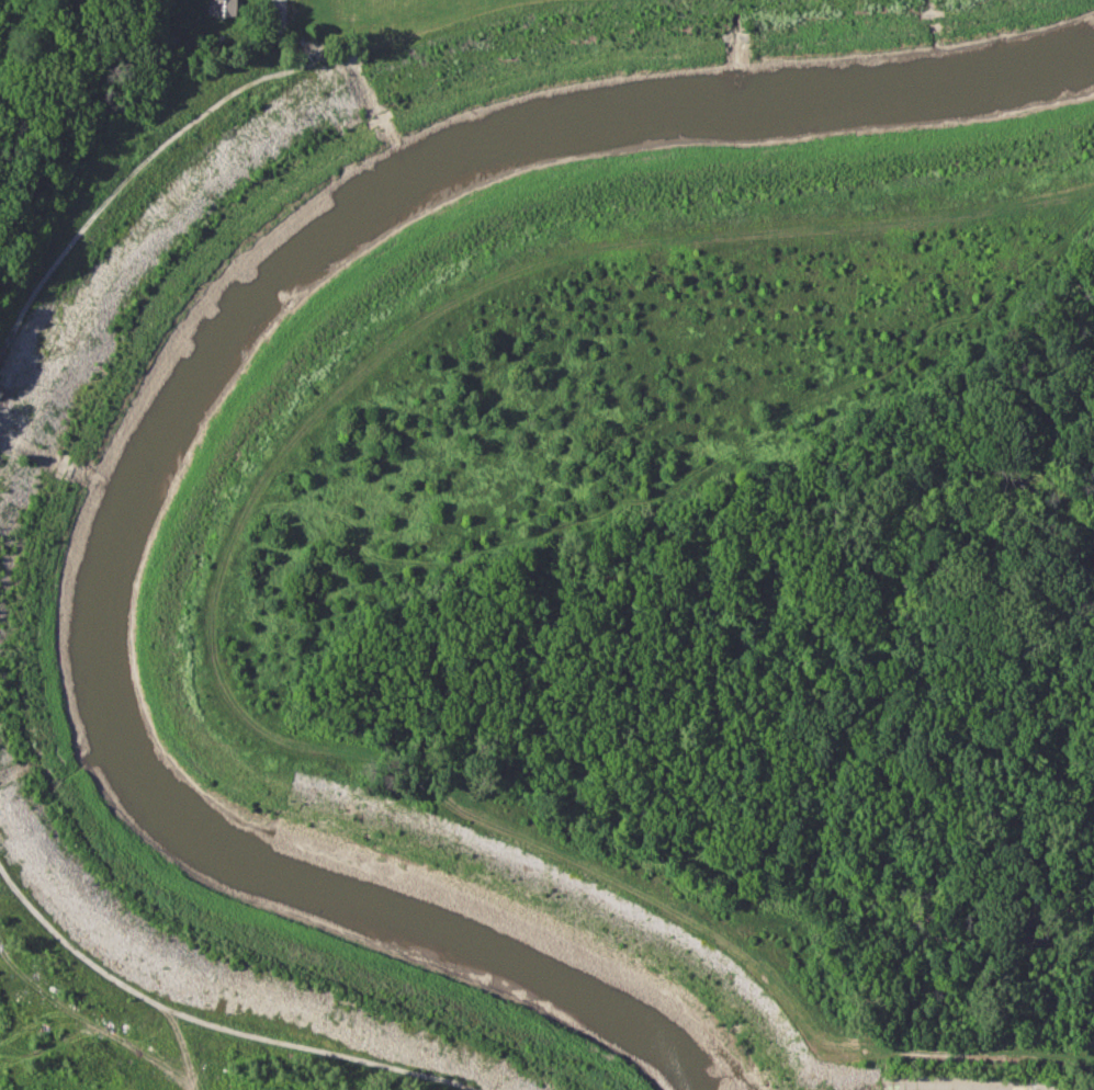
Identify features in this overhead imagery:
building: (222, 8)
road: (278, 10)
park: (578, 56)
river: (171, 422)

